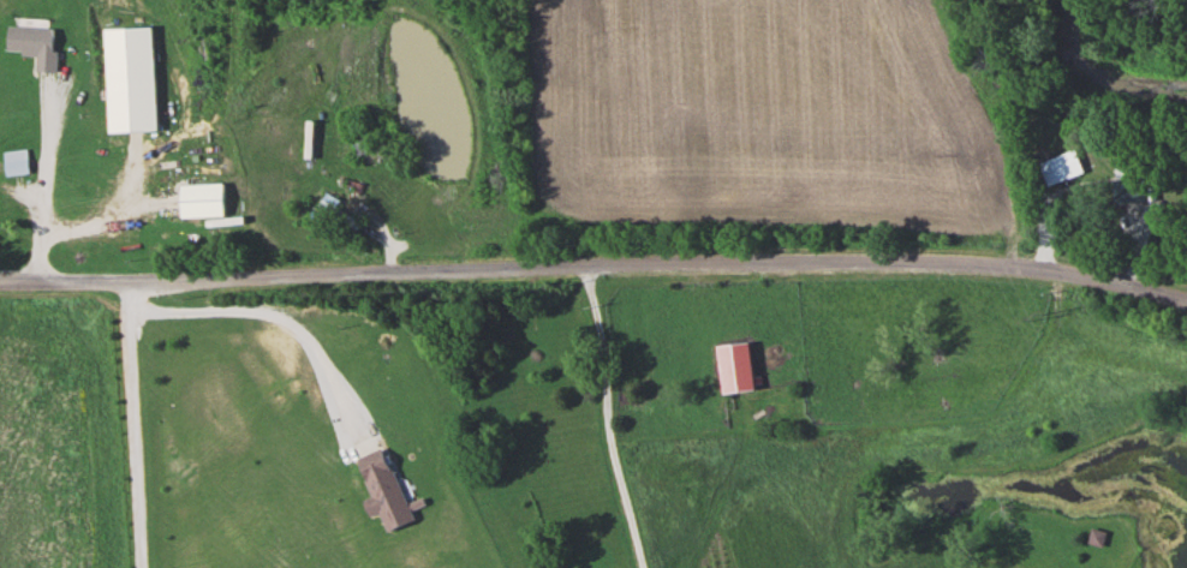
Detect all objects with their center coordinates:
building: (32, 44)
building: (127, 79)
building: (13, 162)
road: (41, 167)
building: (1057, 168)
building: (1129, 185)
building: (199, 201)
building: (336, 211)
road: (595, 263)
road: (263, 310)
power tower: (1039, 317)
building: (735, 366)
road: (610, 417)
road: (124, 424)
road: (996, 432)
road: (684, 434)
building: (381, 489)
building: (1096, 538)

